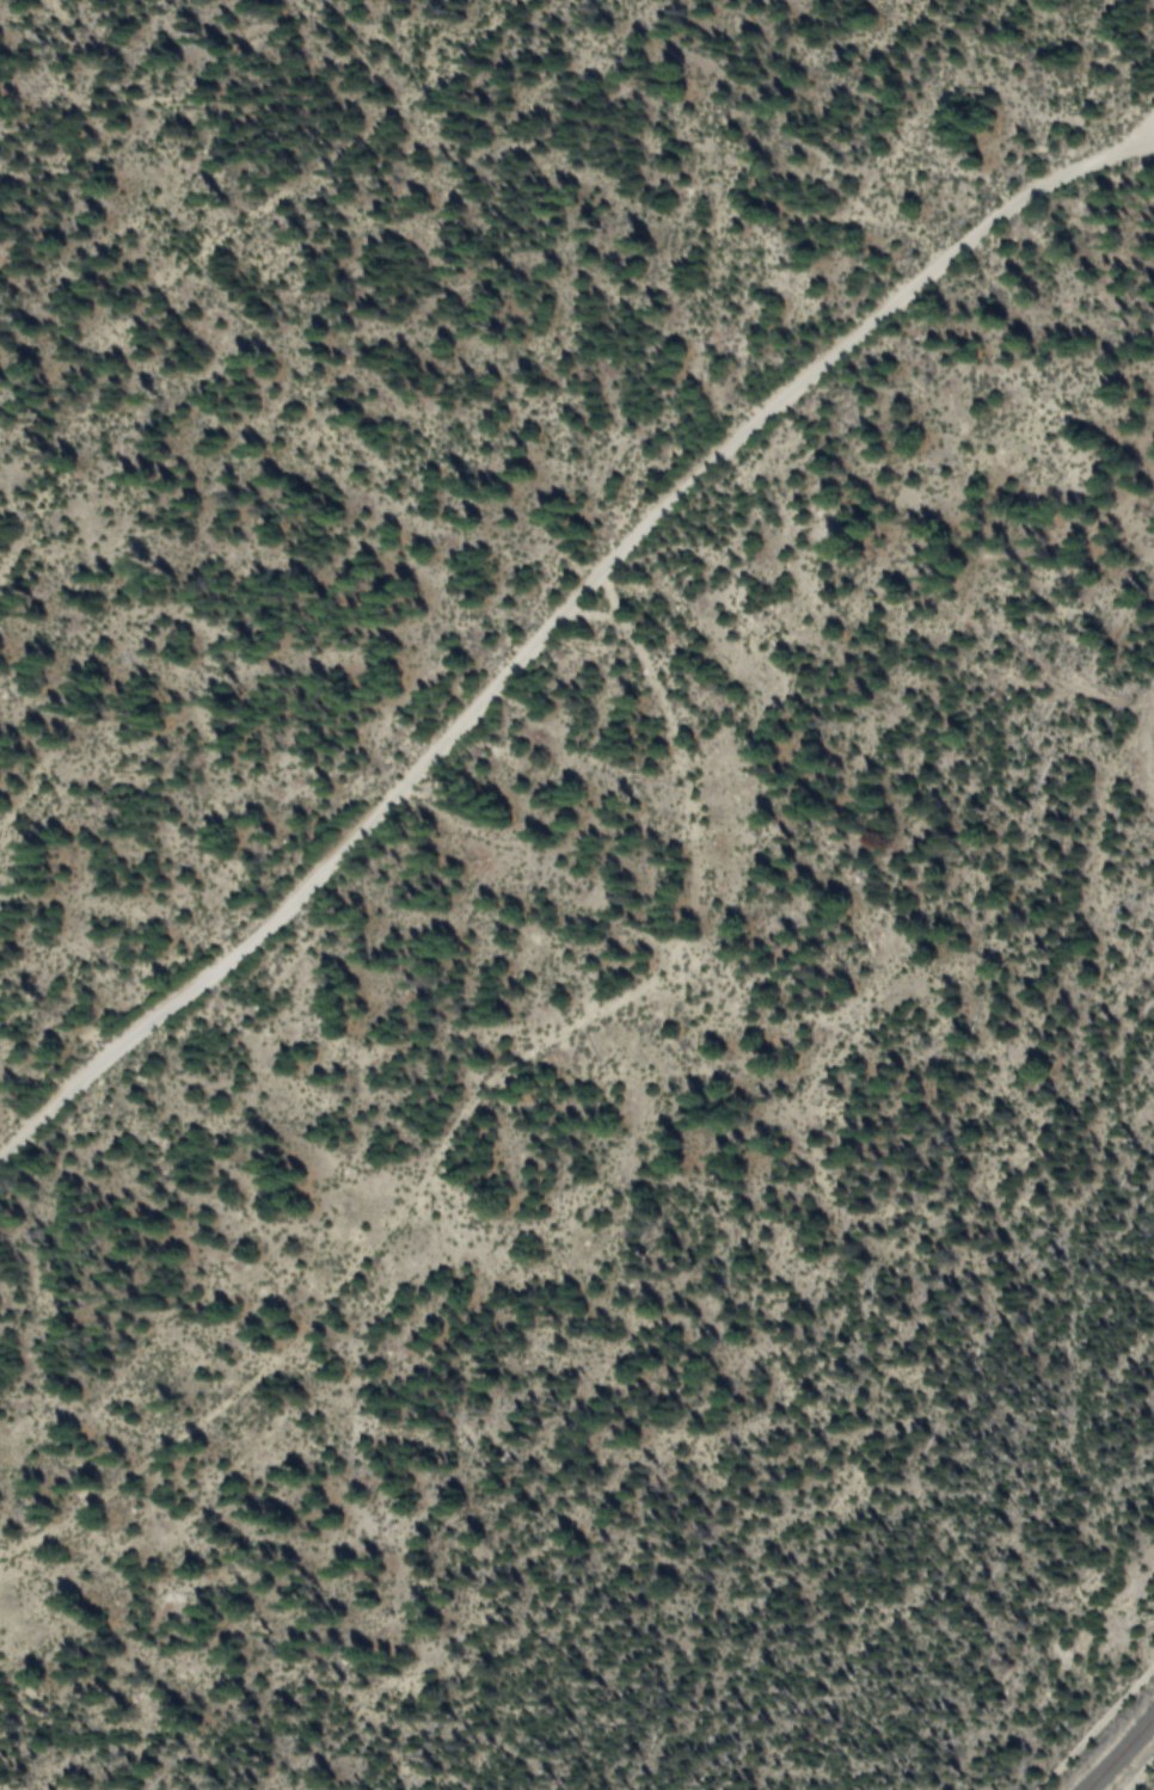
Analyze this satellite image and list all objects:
road: (195, 103)
road: (1149, 140)
road: (211, 248)
road: (564, 631)
road: (1099, 1730)
railway: (1121, 1753)

